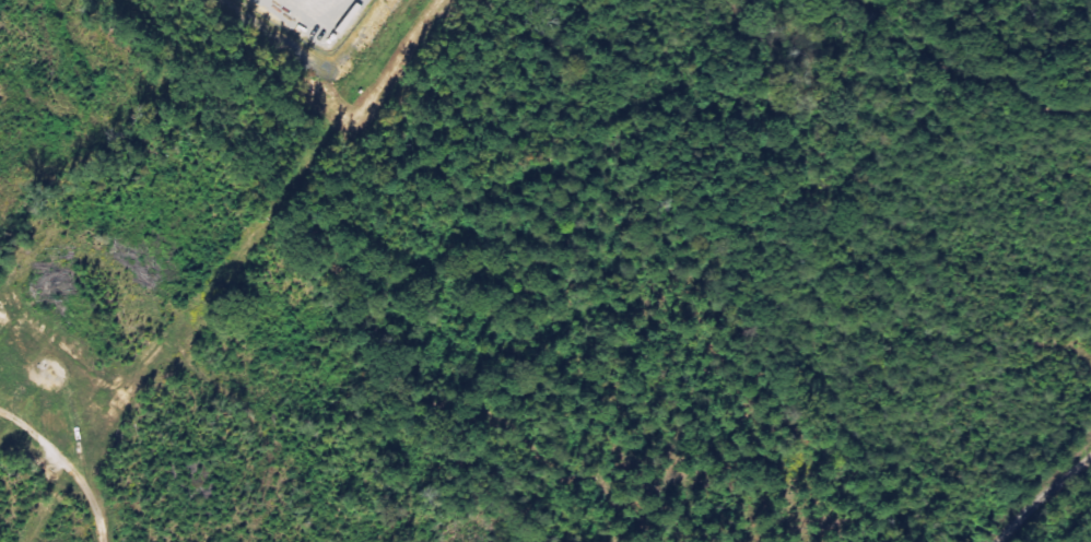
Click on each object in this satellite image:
road: (1061, 504)

